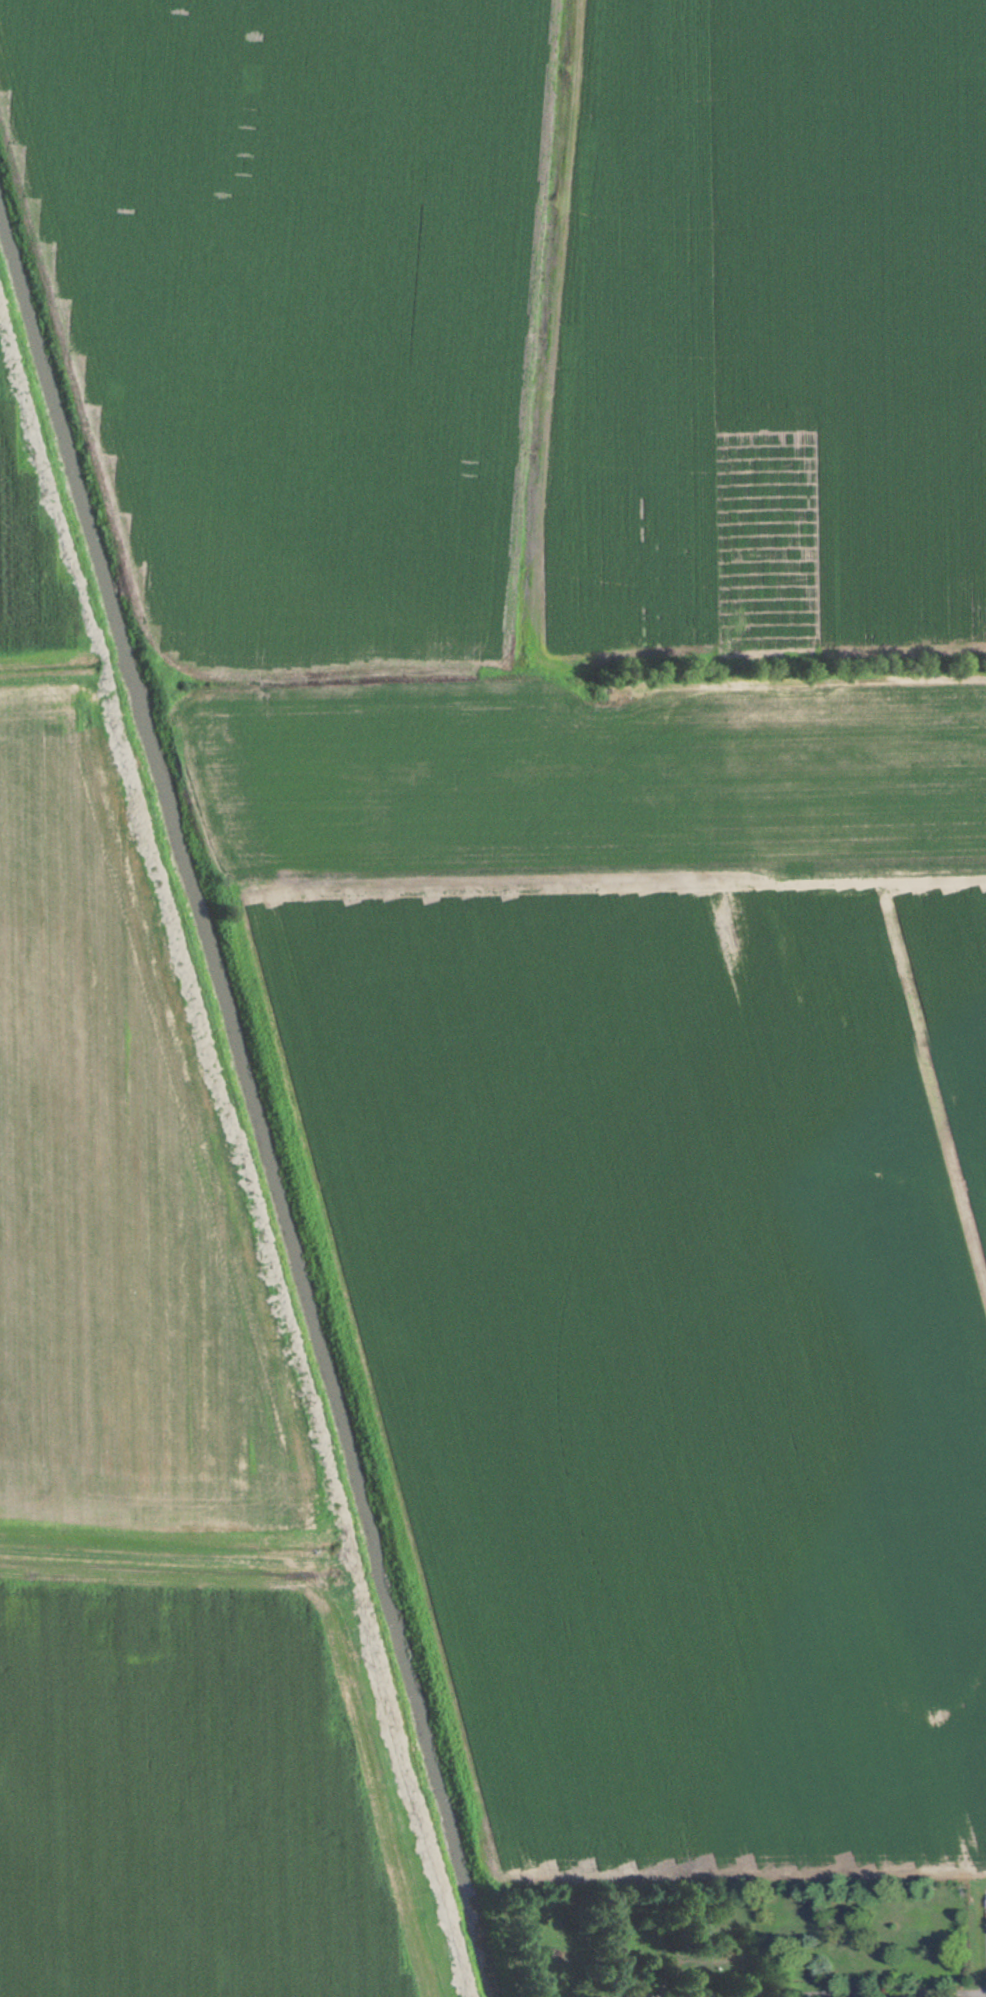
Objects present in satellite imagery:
road: (961, 1991)
road: (766, 1993)
road: (968, 1994)

